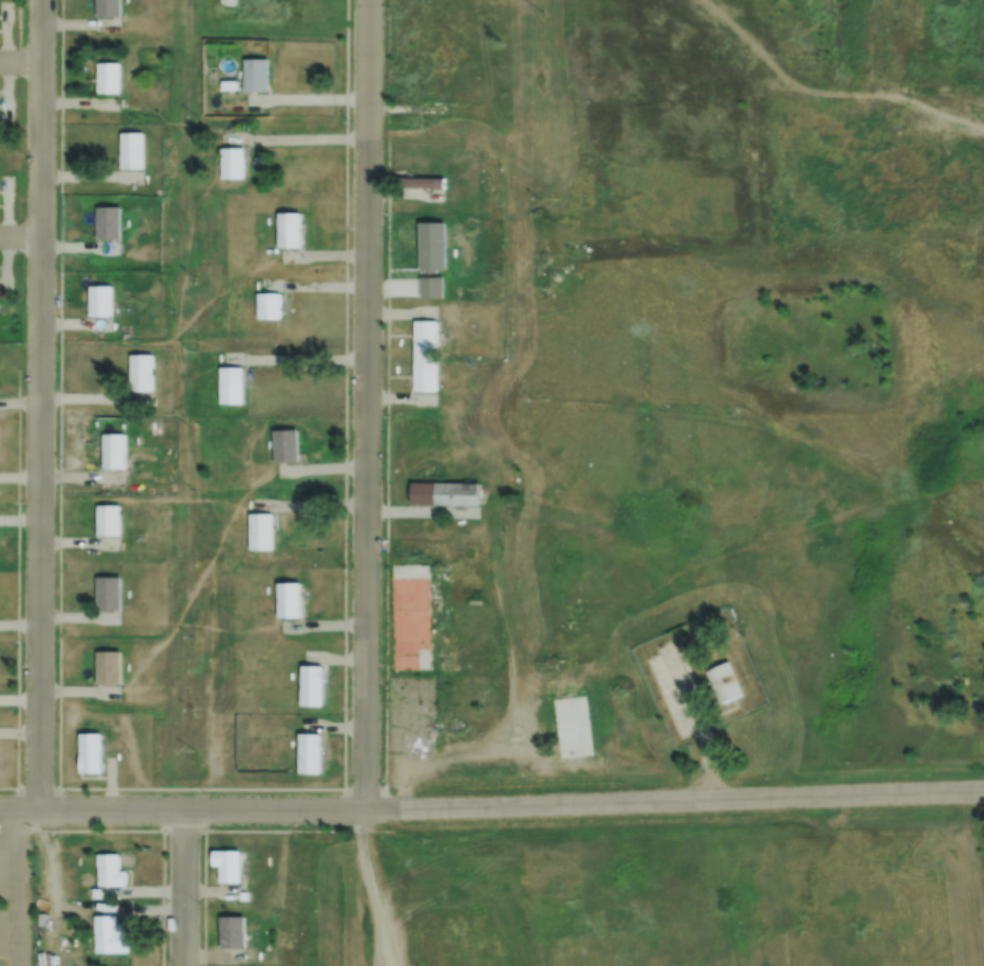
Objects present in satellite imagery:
building: (227, 2)
building: (108, 7)
road: (20, 62)
building: (255, 74)
building: (108, 77)
road: (296, 142)
building: (131, 151)
building: (231, 163)
building: (420, 181)
building: (107, 222)
building: (288, 229)
road: (20, 236)
building: (430, 243)
building: (428, 284)
road: (387, 289)
building: (99, 301)
building: (269, 306)
building: (424, 355)
building: (140, 373)
building: (231, 385)
road: (40, 403)
road: (367, 403)
building: (285, 445)
building: (113, 452)
building: (444, 493)
building: (108, 521)
building: (260, 531)
building: (108, 593)
building: (288, 598)
building: (409, 616)
building: (108, 667)
building: (724, 682)
building: (311, 684)
parking lot: (411, 714)
building: (566, 747)
building: (90, 752)
building: (309, 752)
road: (673, 803)
road: (182, 807)
building: (90, 858)
building: (227, 864)
building: (110, 870)
road: (44, 886)
road: (184, 886)
road: (367, 887)
building: (96, 893)
parking lot: (17, 905)
building: (232, 931)
building: (109, 935)

